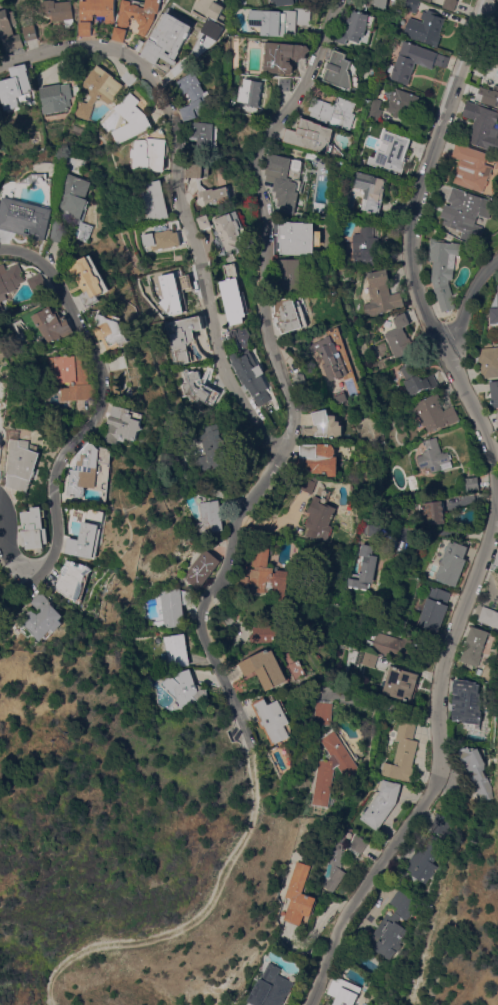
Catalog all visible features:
building: (428, 1)
building: (286, 3)
building: (376, 4)
building: (450, 4)
building: (410, 6)
building: (60, 11)
building: (96, 14)
building: (213, 16)
building: (147, 21)
building: (280, 21)
building: (8, 24)
building: (355, 27)
building: (425, 28)
building: (31, 29)
building: (168, 40)
building: (14, 42)
building: (283, 57)
building: (414, 61)
building: (341, 71)
building: (132, 78)
building: (284, 85)
building: (16, 87)
building: (102, 91)
building: (251, 93)
building: (488, 96)
building: (196, 97)
building: (60, 98)
building: (402, 103)
building: (373, 110)
building: (334, 112)
building: (134, 119)
building: (482, 126)
building: (310, 136)
building: (204, 139)
building: (392, 152)
building: (151, 154)
building: (496, 164)
building: (471, 168)
building: (196, 171)
building: (281, 183)
building: (371, 191)
road: (181, 194)
building: (79, 196)
building: (215, 196)
building: (155, 201)
building: (465, 212)
building: (30, 219)
building: (204, 222)
building: (229, 230)
building: (64, 233)
road: (413, 235)
building: (296, 239)
building: (162, 240)
building: (364, 247)
building: (443, 271)
building: (288, 276)
building: (94, 280)
building: (12, 281)
building: (44, 285)
building: (497, 286)
building: (170, 293)
building: (380, 295)
building: (233, 296)
road: (467, 313)
building: (288, 316)
building: (494, 316)
building: (57, 327)
building: (115, 331)
building: (399, 337)
building: (185, 338)
building: (329, 358)
road: (279, 362)
building: (490, 362)
building: (252, 377)
building: (75, 378)
building: (417, 380)
building: (300, 382)
building: (200, 388)
building: (495, 394)
building: (340, 398)
road: (102, 410)
building: (434, 414)
building: (497, 418)
building: (127, 425)
building: (325, 426)
building: (2, 442)
building: (216, 450)
building: (434, 458)
building: (25, 459)
building: (319, 459)
building: (90, 469)
building: (309, 484)
building: (473, 484)
building: (434, 513)
building: (209, 519)
building: (321, 520)
building: (35, 529)
building: (375, 530)
road: (5, 531)
building: (88, 541)
building: (452, 563)
building: (497, 564)
building: (201, 569)
building: (366, 569)
building: (268, 576)
building: (73, 577)
building: (243, 582)
building: (173, 607)
building: (434, 609)
building: (489, 616)
building: (44, 618)
building: (264, 635)
building: (392, 647)
building: (476, 649)
building: (175, 651)
building: (368, 660)
building: (266, 669)
road: (410, 669)
building: (400, 683)
building: (185, 689)
building: (464, 695)
road: (436, 705)
building: (322, 713)
building: (274, 720)
road: (245, 729)
building: (402, 754)
building: (332, 767)
building: (476, 771)
building: (382, 805)
building: (441, 825)
building: (358, 844)
building: (424, 860)
building: (333, 868)
building: (300, 896)
road: (193, 914)
building: (393, 926)
road: (335, 947)
building: (271, 988)
building: (343, 991)

